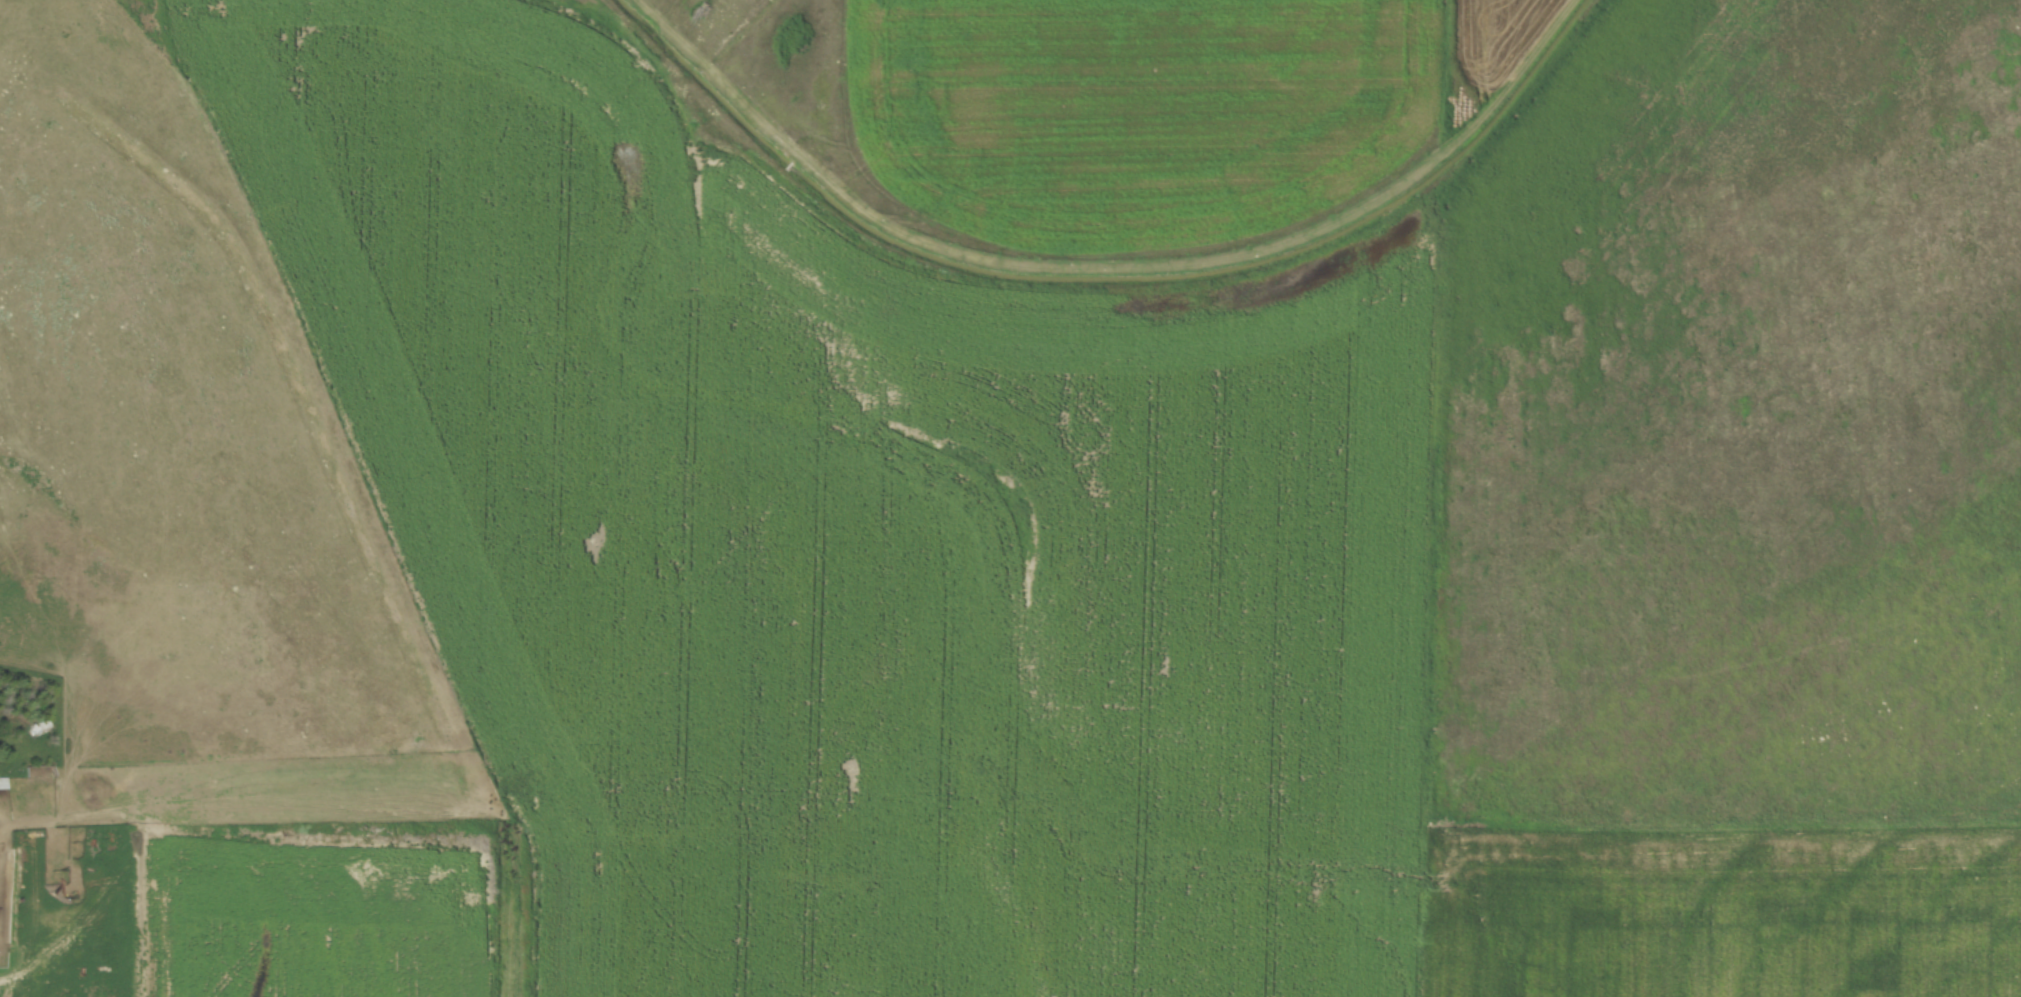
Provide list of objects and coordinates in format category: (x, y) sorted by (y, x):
building: (39, 771)
building: (3, 783)

